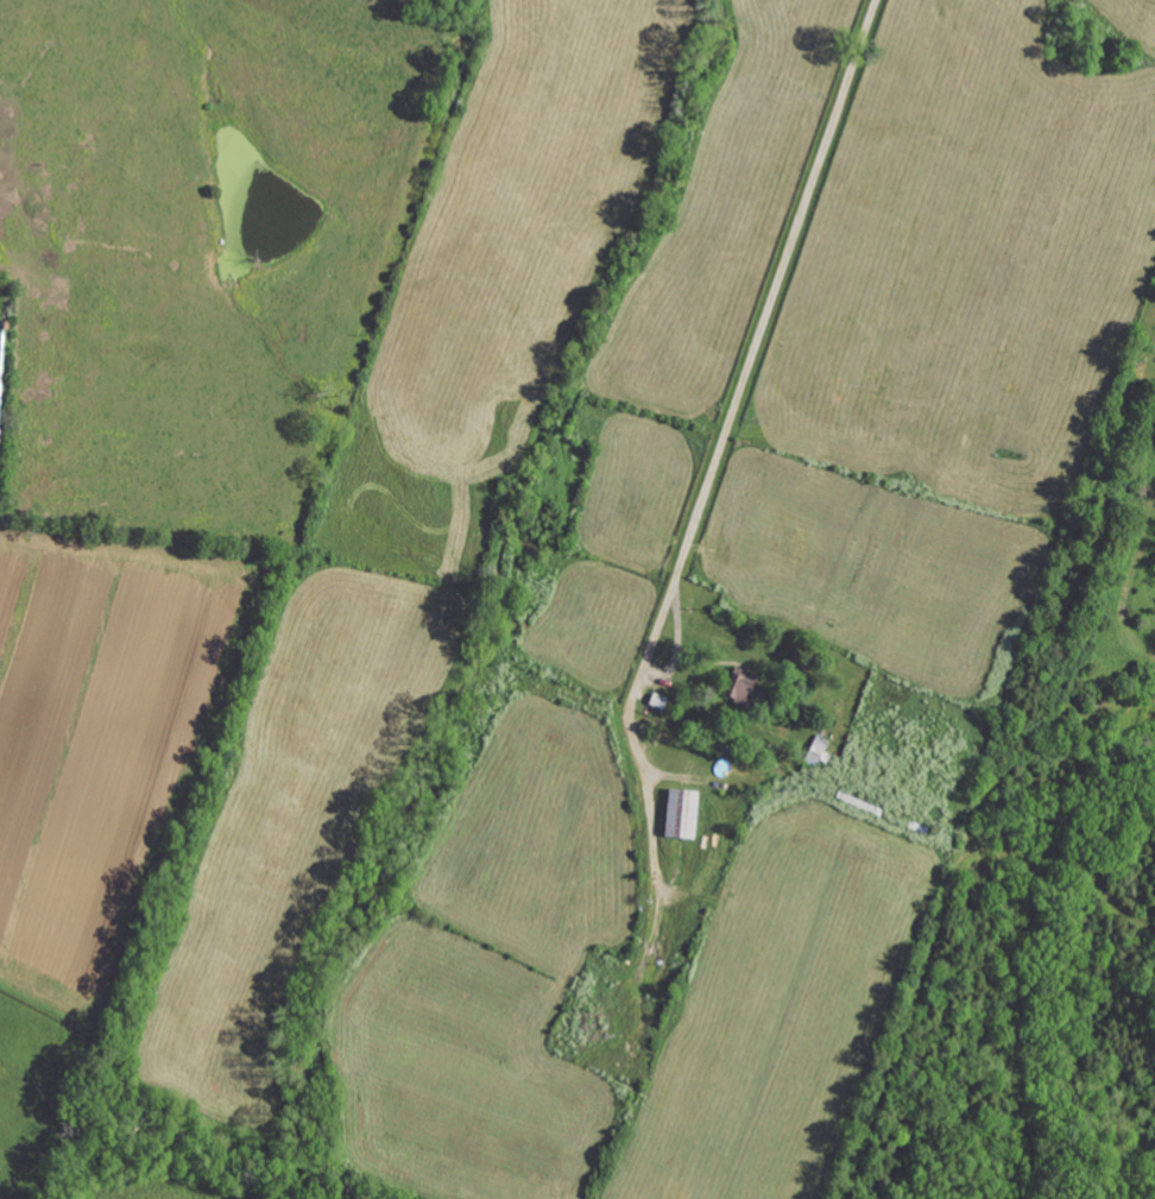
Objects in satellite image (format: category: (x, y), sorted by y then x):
road: (724, 440)
building: (743, 688)
building: (658, 701)
building: (680, 815)

